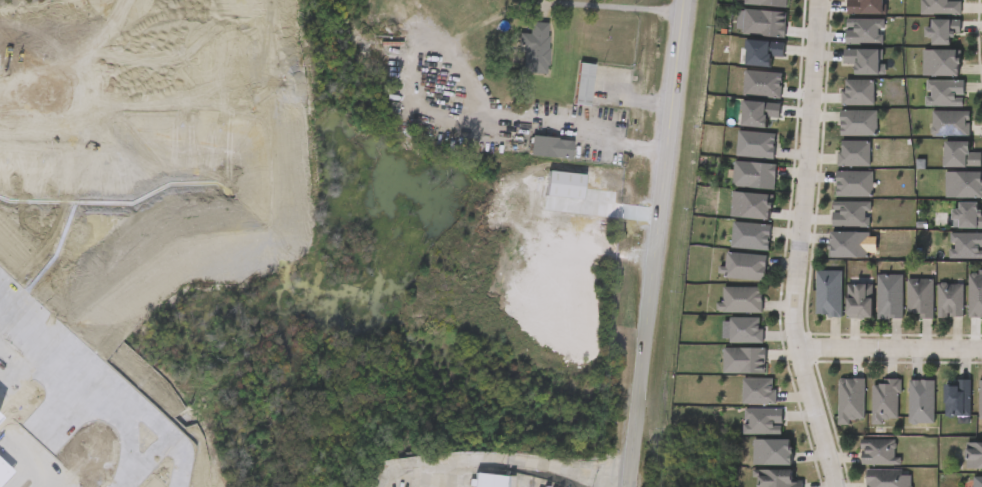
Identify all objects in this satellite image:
building: (767, 1)
road: (610, 4)
building: (867, 7)
building: (940, 7)
building: (850, 18)
building: (922, 19)
building: (765, 20)
building: (864, 29)
building: (943, 31)
building: (745, 39)
building: (847, 47)
building: (925, 47)
building: (535, 48)
building: (761, 50)
building: (865, 60)
building: (942, 63)
building: (517, 64)
building: (746, 68)
building: (849, 77)
building: (924, 79)
building: (762, 81)
building: (584, 82)
road: (96, 86)
building: (858, 92)
building: (945, 93)
road: (636, 94)
building: (566, 100)
building: (746, 100)
building: (841, 108)
building: (928, 109)
building: (757, 111)
building: (859, 123)
building: (951, 123)
building: (742, 129)
road: (597, 133)
building: (841, 139)
building: (933, 140)
building: (755, 141)
building: (549, 145)
building: (854, 154)
building: (962, 155)
building: (739, 161)
building: (533, 163)
building: (837, 170)
building: (944, 171)
building: (754, 172)
building: (854, 184)
building: (964, 185)
building: (737, 191)
building: (837, 199)
building: (948, 200)
building: (750, 202)
building: (849, 213)
building: (968, 216)
building: (734, 221)
building: (834, 230)
building: (749, 232)
building: (952, 232)
road: (658, 243)
road: (796, 245)
building: (849, 245)
building: (965, 246)
building: (734, 252)
building: (832, 260)
building: (952, 262)
building: (746, 267)
building: (727, 282)
building: (827, 293)
building: (976, 294)
building: (889, 296)
building: (919, 297)
building: (743, 300)
building: (950, 300)
building: (858, 301)
building: (811, 309)
building: (964, 310)
building: (872, 312)
building: (903, 313)
building: (724, 315)
building: (933, 316)
building: (842, 317)
building: (746, 326)
building: (728, 346)
road: (890, 351)
building: (745, 360)
road: (96, 373)
building: (727, 376)
building: (759, 391)
building: (957, 399)
building: (850, 401)
building: (884, 401)
building: (920, 401)
building: (980, 403)
building: (741, 407)
building: (941, 415)
building: (834, 416)
building: (762, 417)
building: (868, 417)
building: (904, 417)
building: (746, 437)
road: (169, 442)
building: (772, 448)
road: (20, 450)
building: (877, 451)
road: (525, 454)
building: (975, 456)
road: (145, 463)
building: (755, 467)
building: (861, 468)
road: (38, 471)
building: (778, 478)
building: (886, 478)
building: (487, 480)
building: (977, 481)
road: (180, 484)

